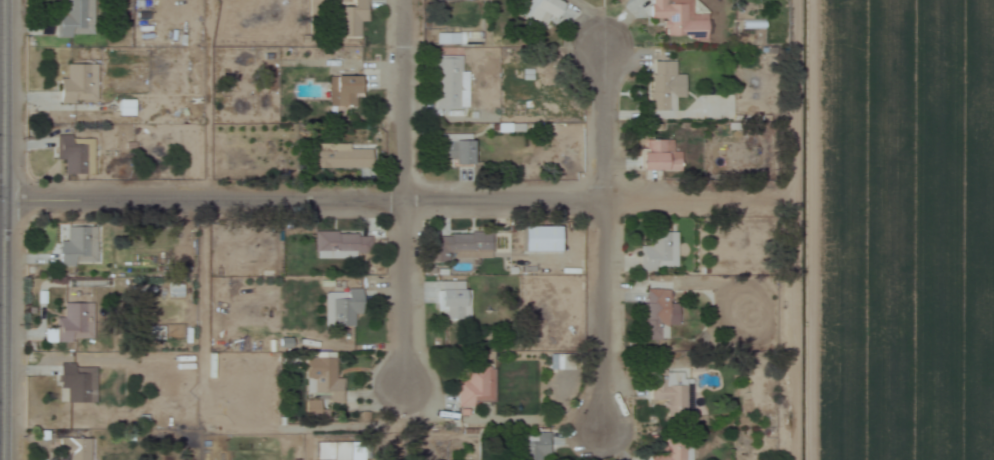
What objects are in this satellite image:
building: (538, 12)
building: (348, 18)
building: (73, 19)
building: (676, 19)
building: (447, 83)
building: (75, 84)
building: (660, 87)
building: (340, 91)
building: (123, 108)
building: (453, 150)
building: (73, 154)
building: (337, 157)
building: (656, 157)
road: (399, 189)
road: (407, 195)
road: (4, 230)
road: (606, 238)
building: (341, 245)
building: (75, 246)
building: (461, 246)
building: (657, 252)
building: (451, 301)
building: (340, 305)
building: (653, 315)
building: (73, 323)
building: (559, 362)
building: (323, 383)
building: (75, 384)
building: (475, 387)
building: (670, 392)
building: (309, 407)
building: (529, 447)
building: (72, 449)
building: (673, 450)

